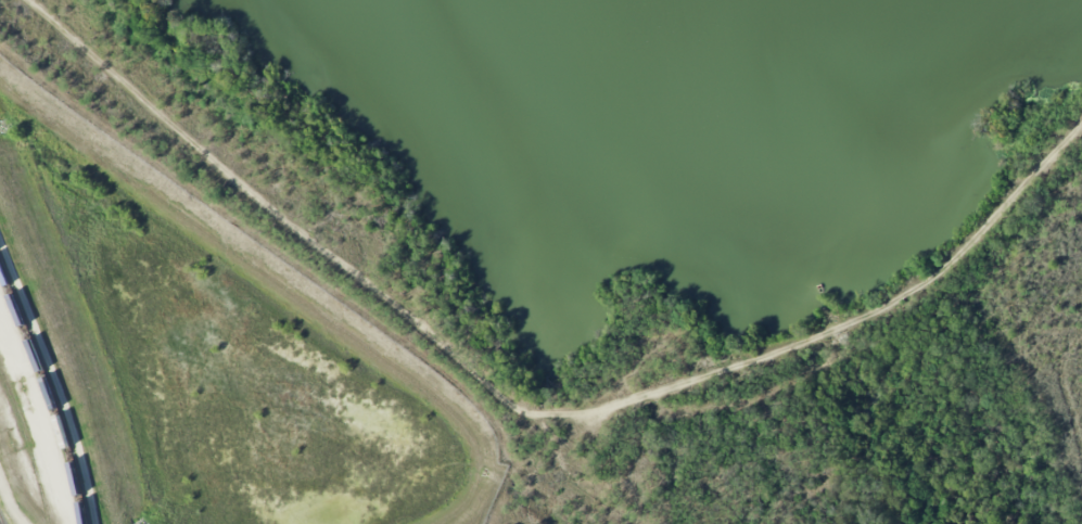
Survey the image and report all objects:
road: (1015, 201)
dam: (862, 321)
road: (862, 321)
road: (673, 387)
railway: (50, 393)
railway: (1, 519)

